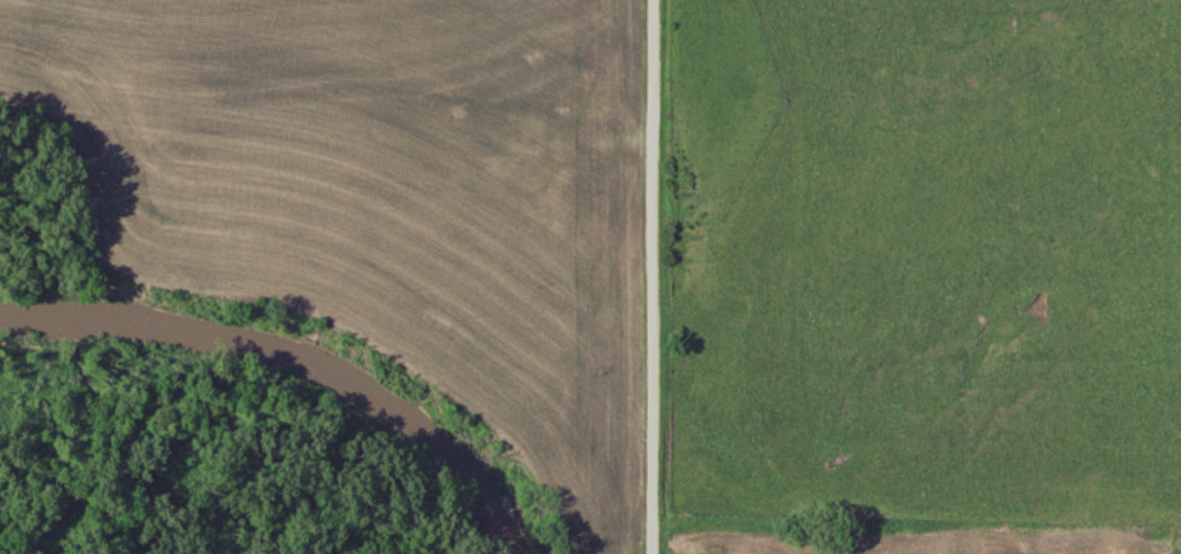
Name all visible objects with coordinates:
road: (666, 276)

